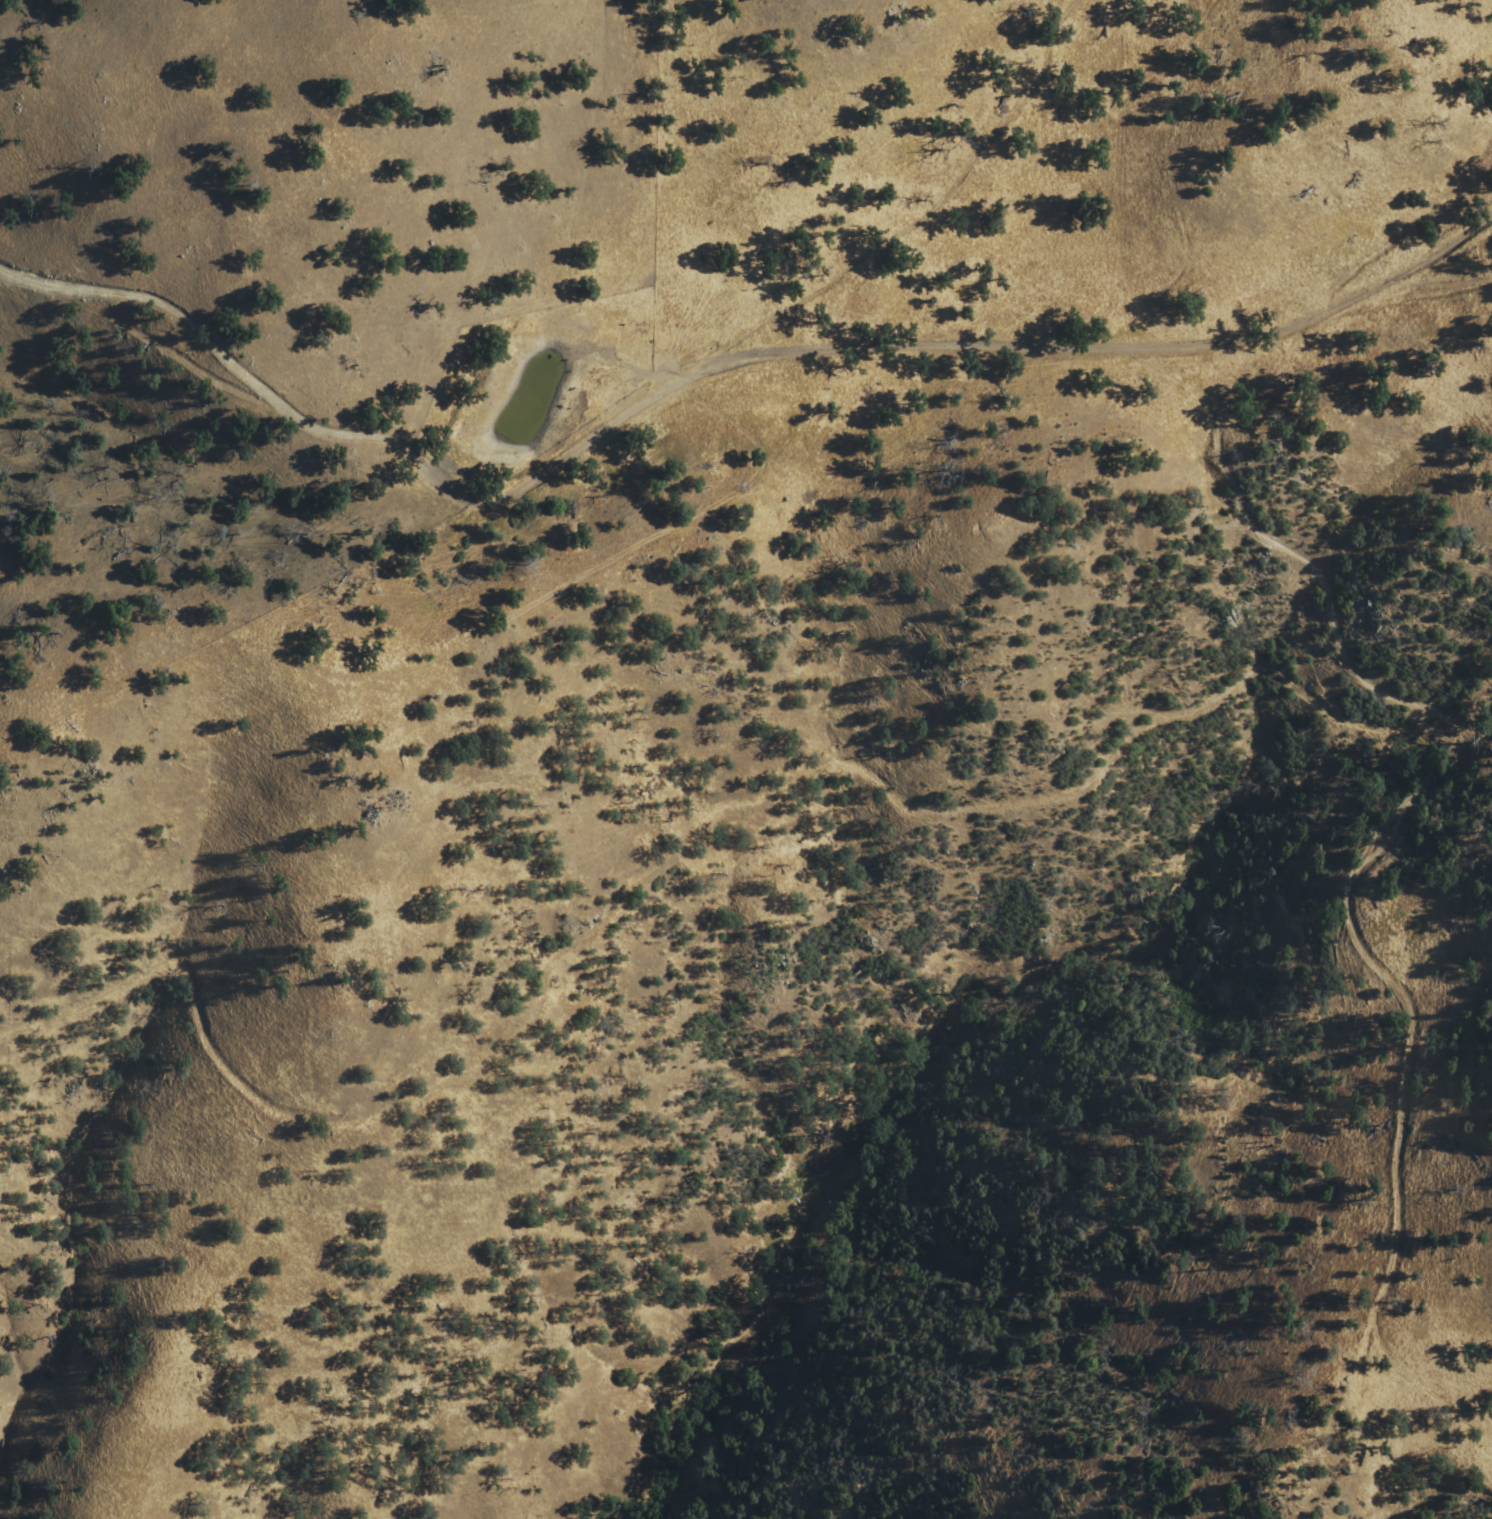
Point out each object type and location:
road: (879, 797)

